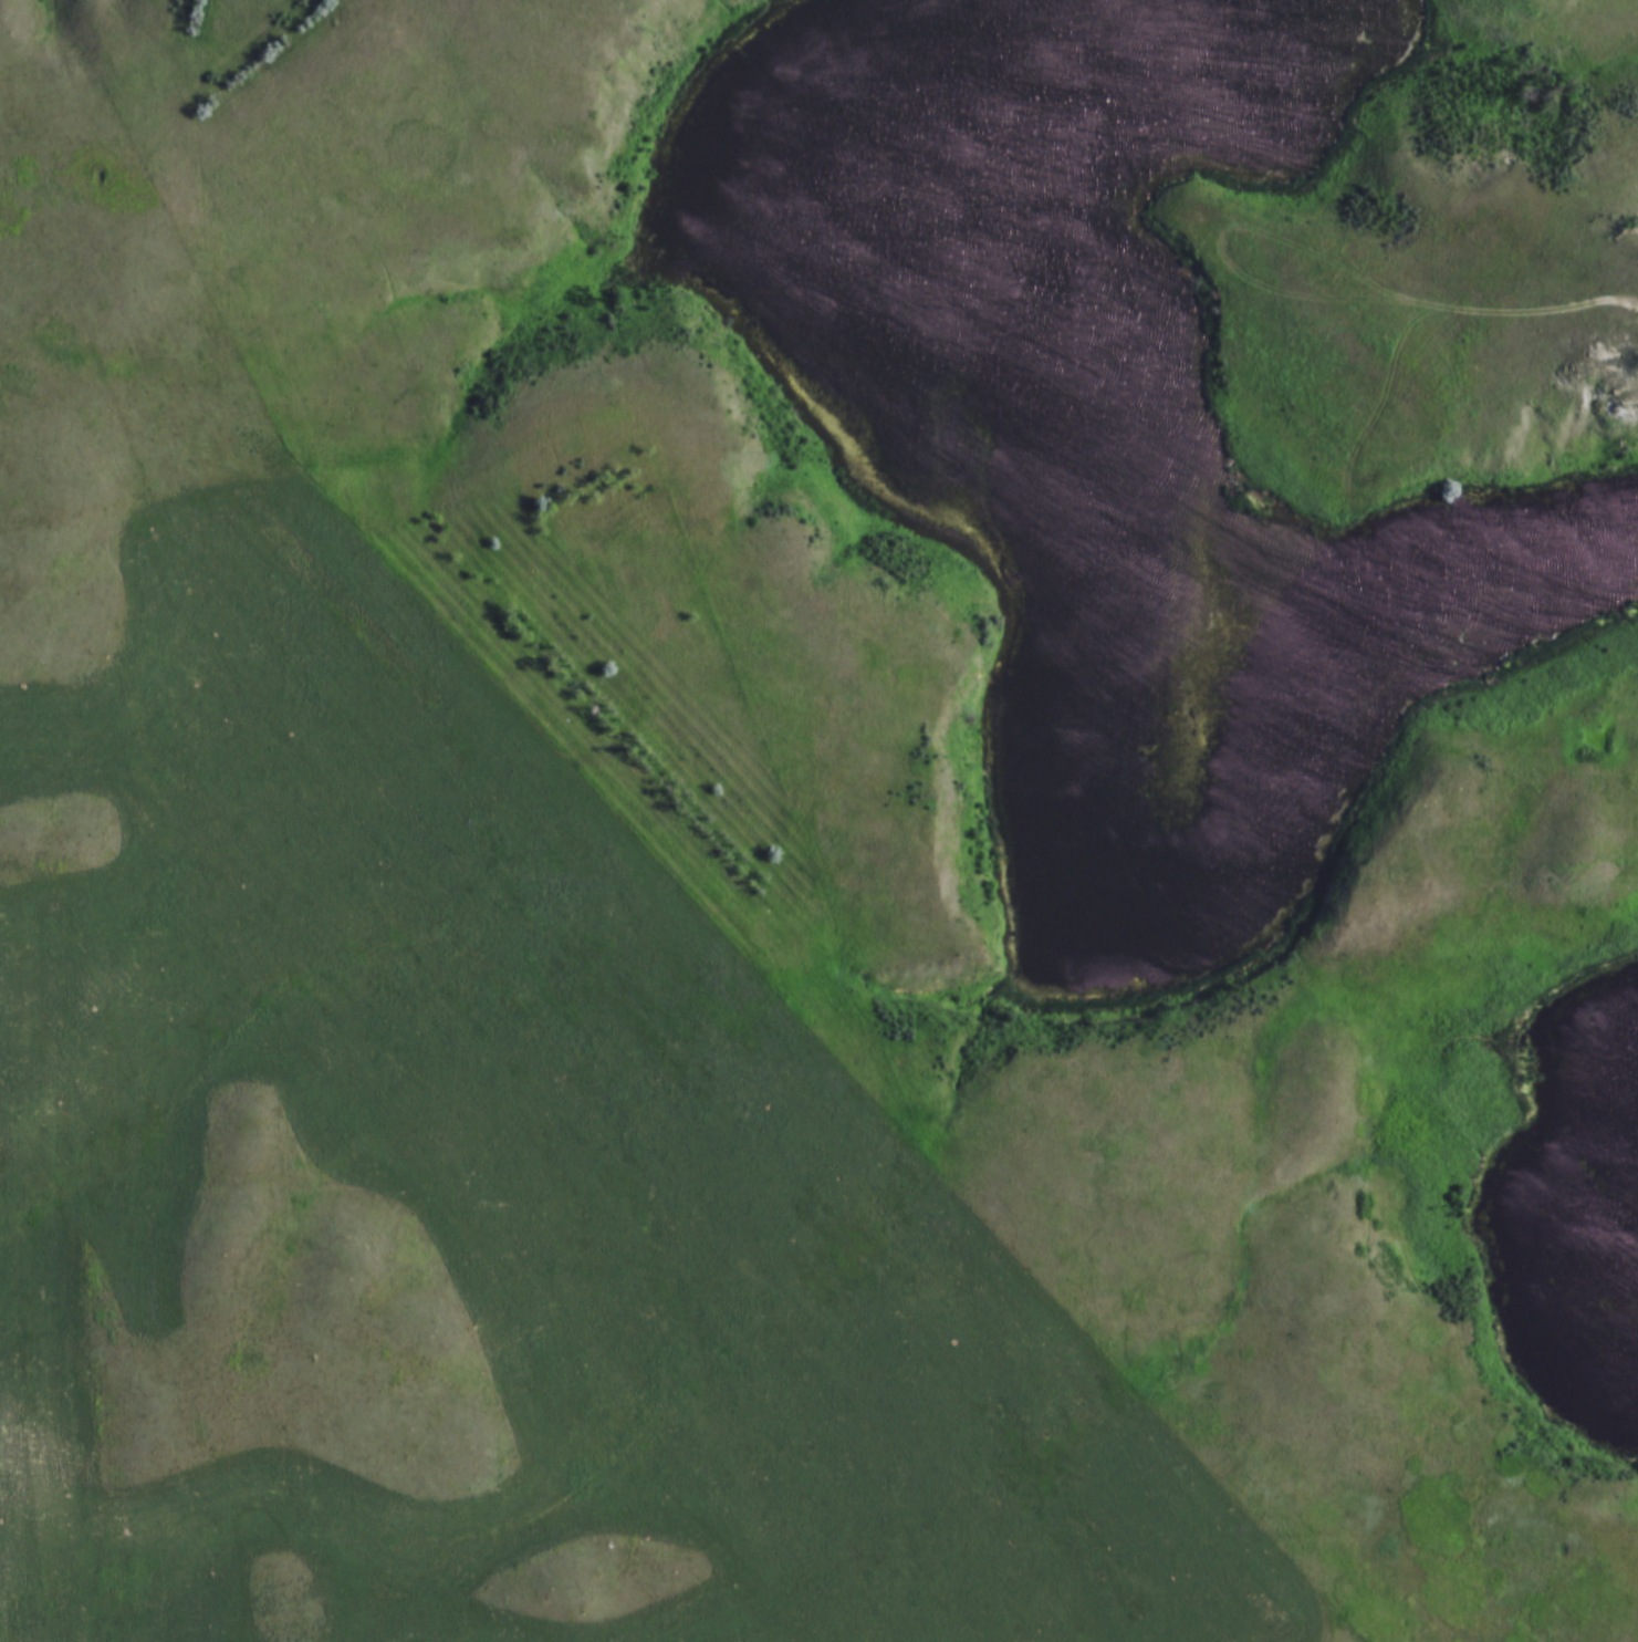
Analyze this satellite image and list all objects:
road: (1551, 302)
park: (1048, 627)

